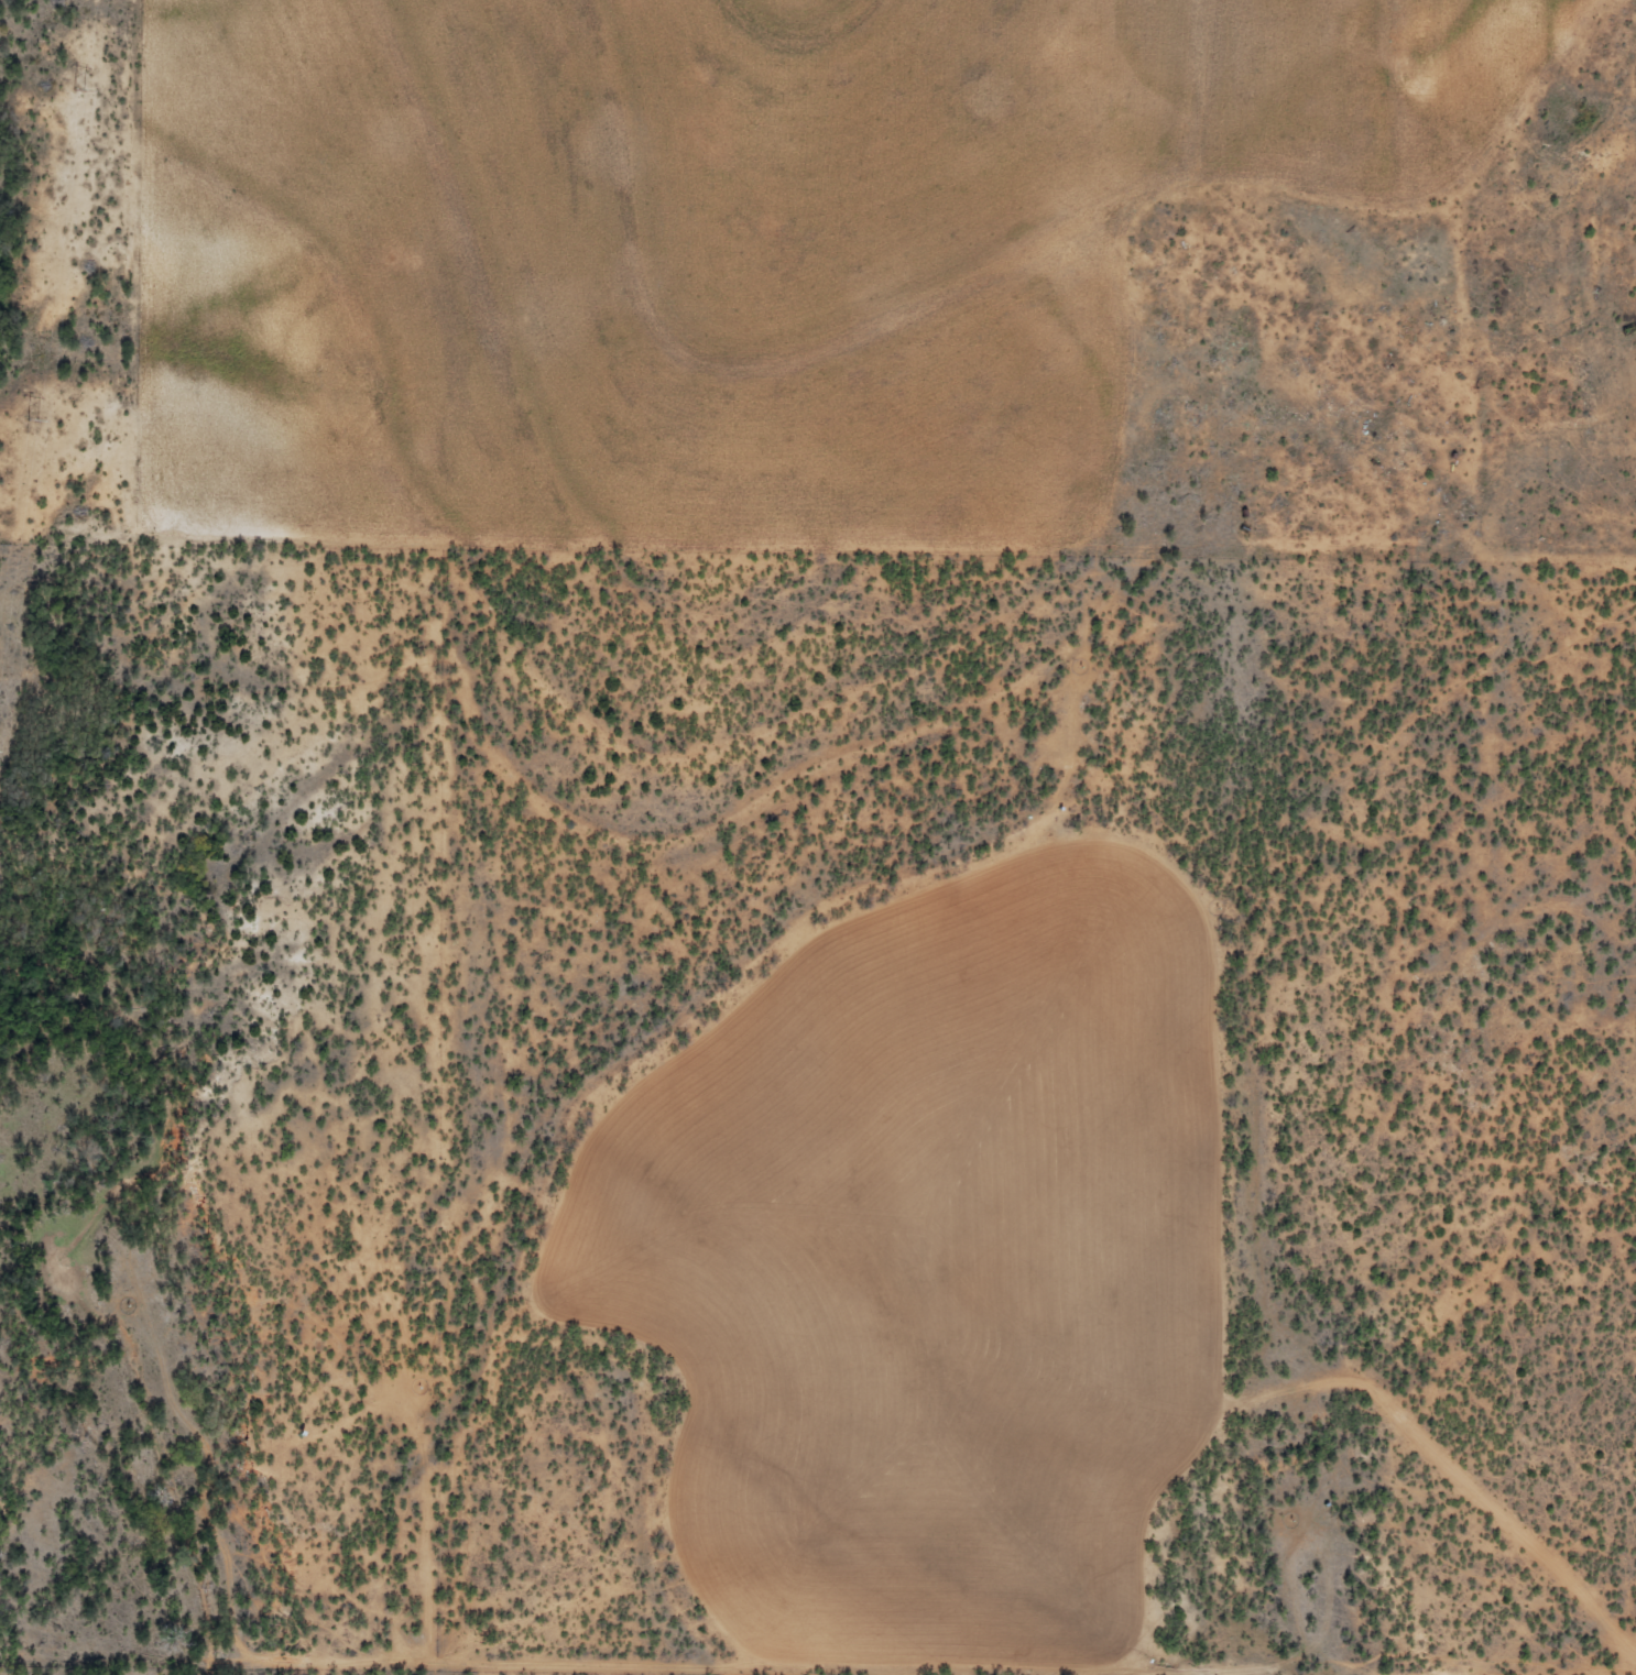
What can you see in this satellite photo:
power tower: (79, 88)
power tower: (32, 420)
road: (687, 1665)

